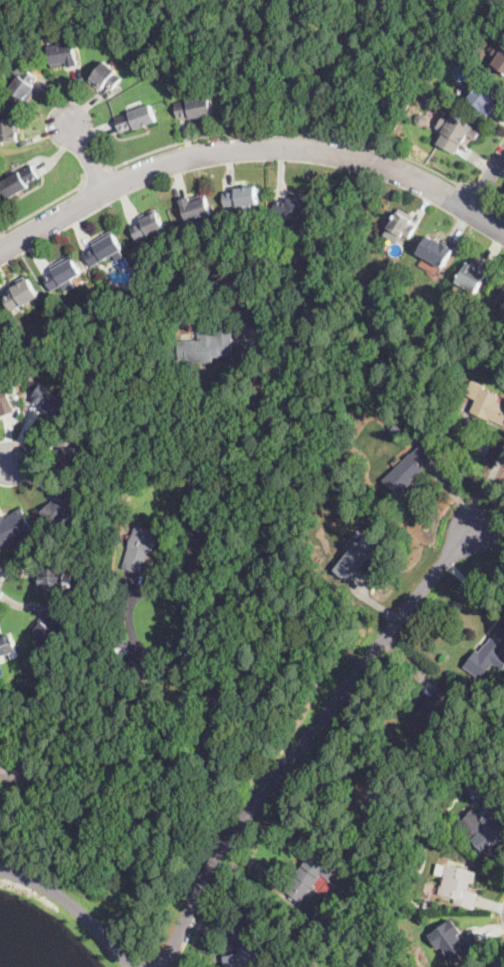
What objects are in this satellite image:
building: (63, 55)
building: (499, 58)
building: (106, 77)
building: (24, 82)
building: (484, 98)
building: (194, 108)
building: (136, 119)
building: (421, 119)
road: (293, 128)
building: (9, 130)
building: (455, 132)
road: (250, 145)
road: (86, 157)
road: (95, 173)
road: (486, 178)
building: (19, 182)
road: (480, 194)
building: (241, 197)
road: (45, 203)
building: (196, 207)
road: (500, 207)
building: (294, 208)
building: (403, 224)
building: (147, 226)
building: (105, 251)
building: (436, 252)
building: (63, 276)
building: (473, 276)
building: (196, 281)
building: (144, 290)
building: (203, 292)
building: (21, 295)
building: (502, 299)
building: (418, 303)
building: (245, 304)
building: (290, 338)
building: (31, 339)
building: (207, 346)
building: (13, 386)
building: (5, 402)
building: (50, 402)
building: (486, 403)
building: (425, 434)
building: (67, 454)
road: (491, 460)
road: (4, 462)
building: (409, 470)
building: (60, 510)
building: (15, 529)
building: (140, 549)
building: (356, 558)
road: (190, 564)
building: (52, 580)
road: (474, 585)
building: (43, 632)
building: (7, 646)
building: (488, 658)
building: (122, 698)
building: (432, 715)
building: (483, 720)
road: (307, 738)
building: (13, 768)
building: (384, 769)
building: (368, 792)
building: (490, 831)
building: (308, 876)
building: (458, 884)
building: (326, 887)
road: (74, 905)
building: (424, 905)
building: (251, 911)
building: (310, 912)
building: (328, 933)
building: (454, 941)
building: (242, 958)
building: (307, 964)

